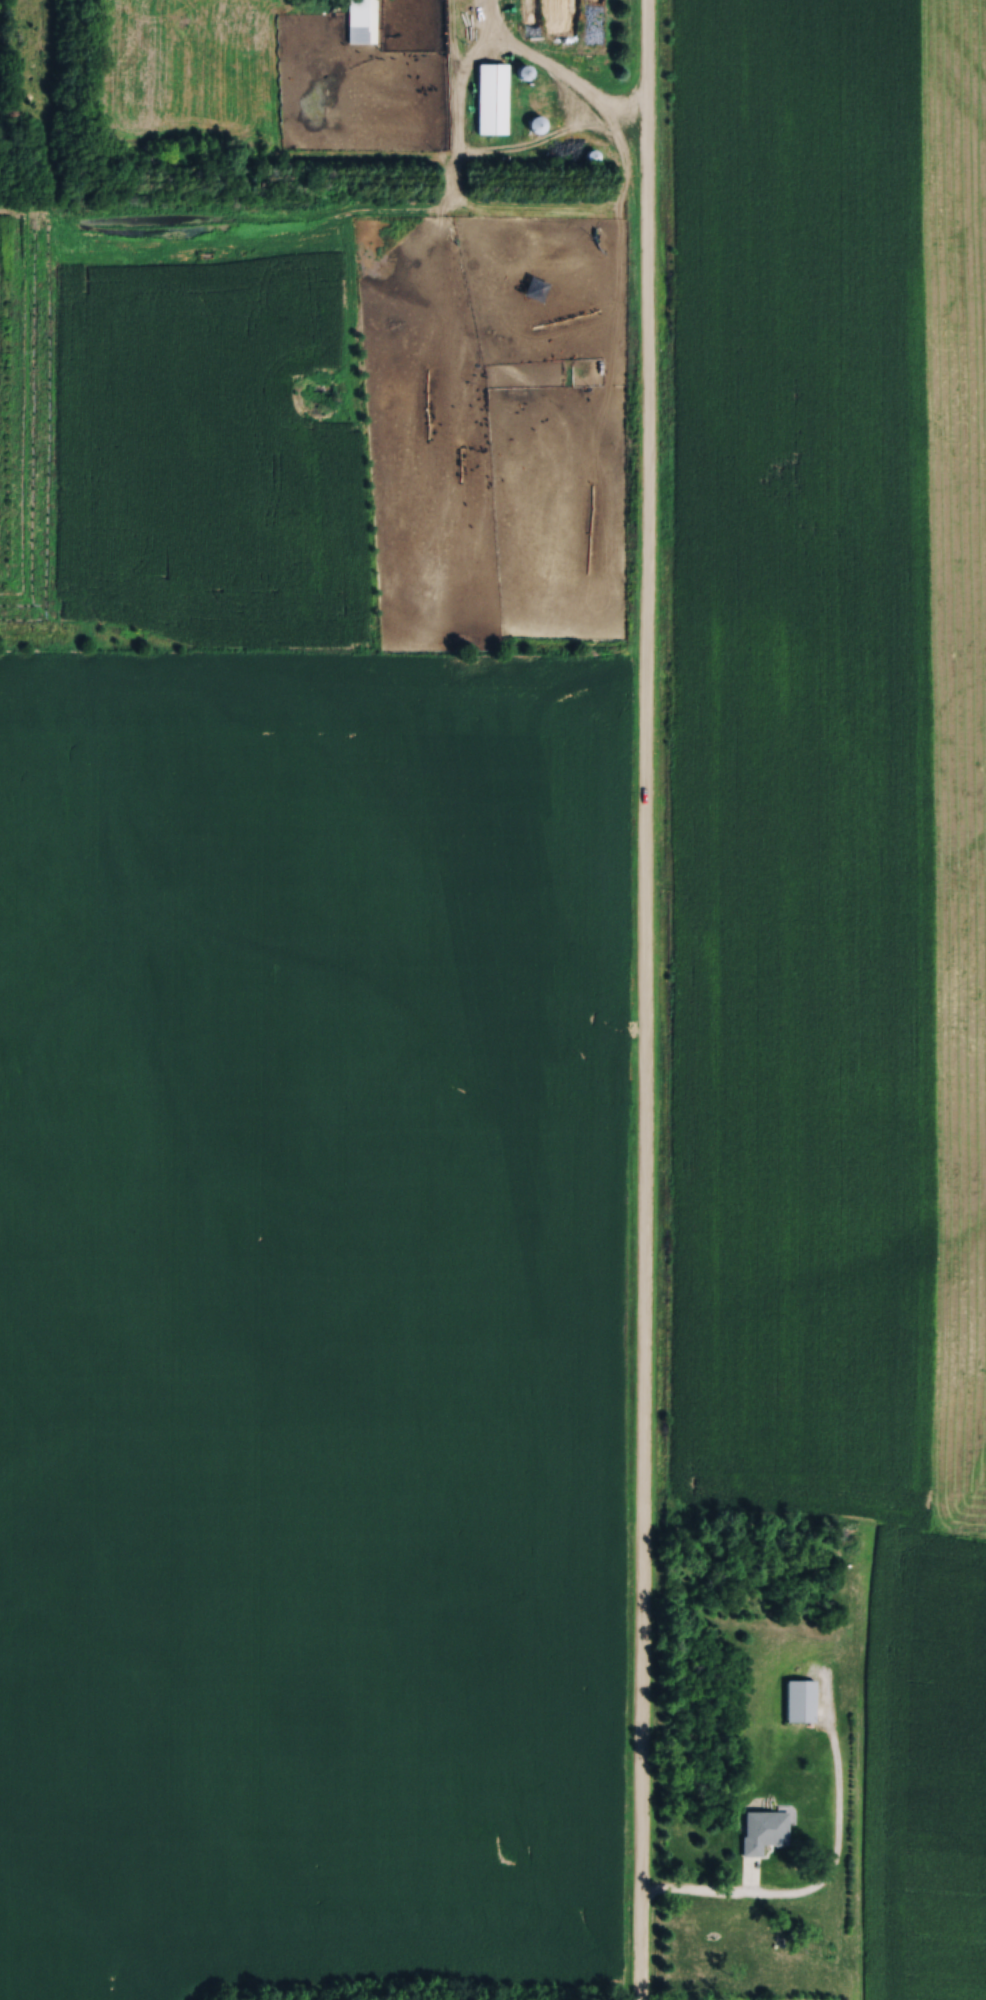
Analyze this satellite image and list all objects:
building: (553, 16)
building: (358, 19)
building: (518, 69)
road: (551, 74)
building: (489, 95)
building: (531, 121)
building: (586, 151)
road: (643, 1000)
building: (797, 1697)
building: (759, 1826)
road: (699, 1894)

